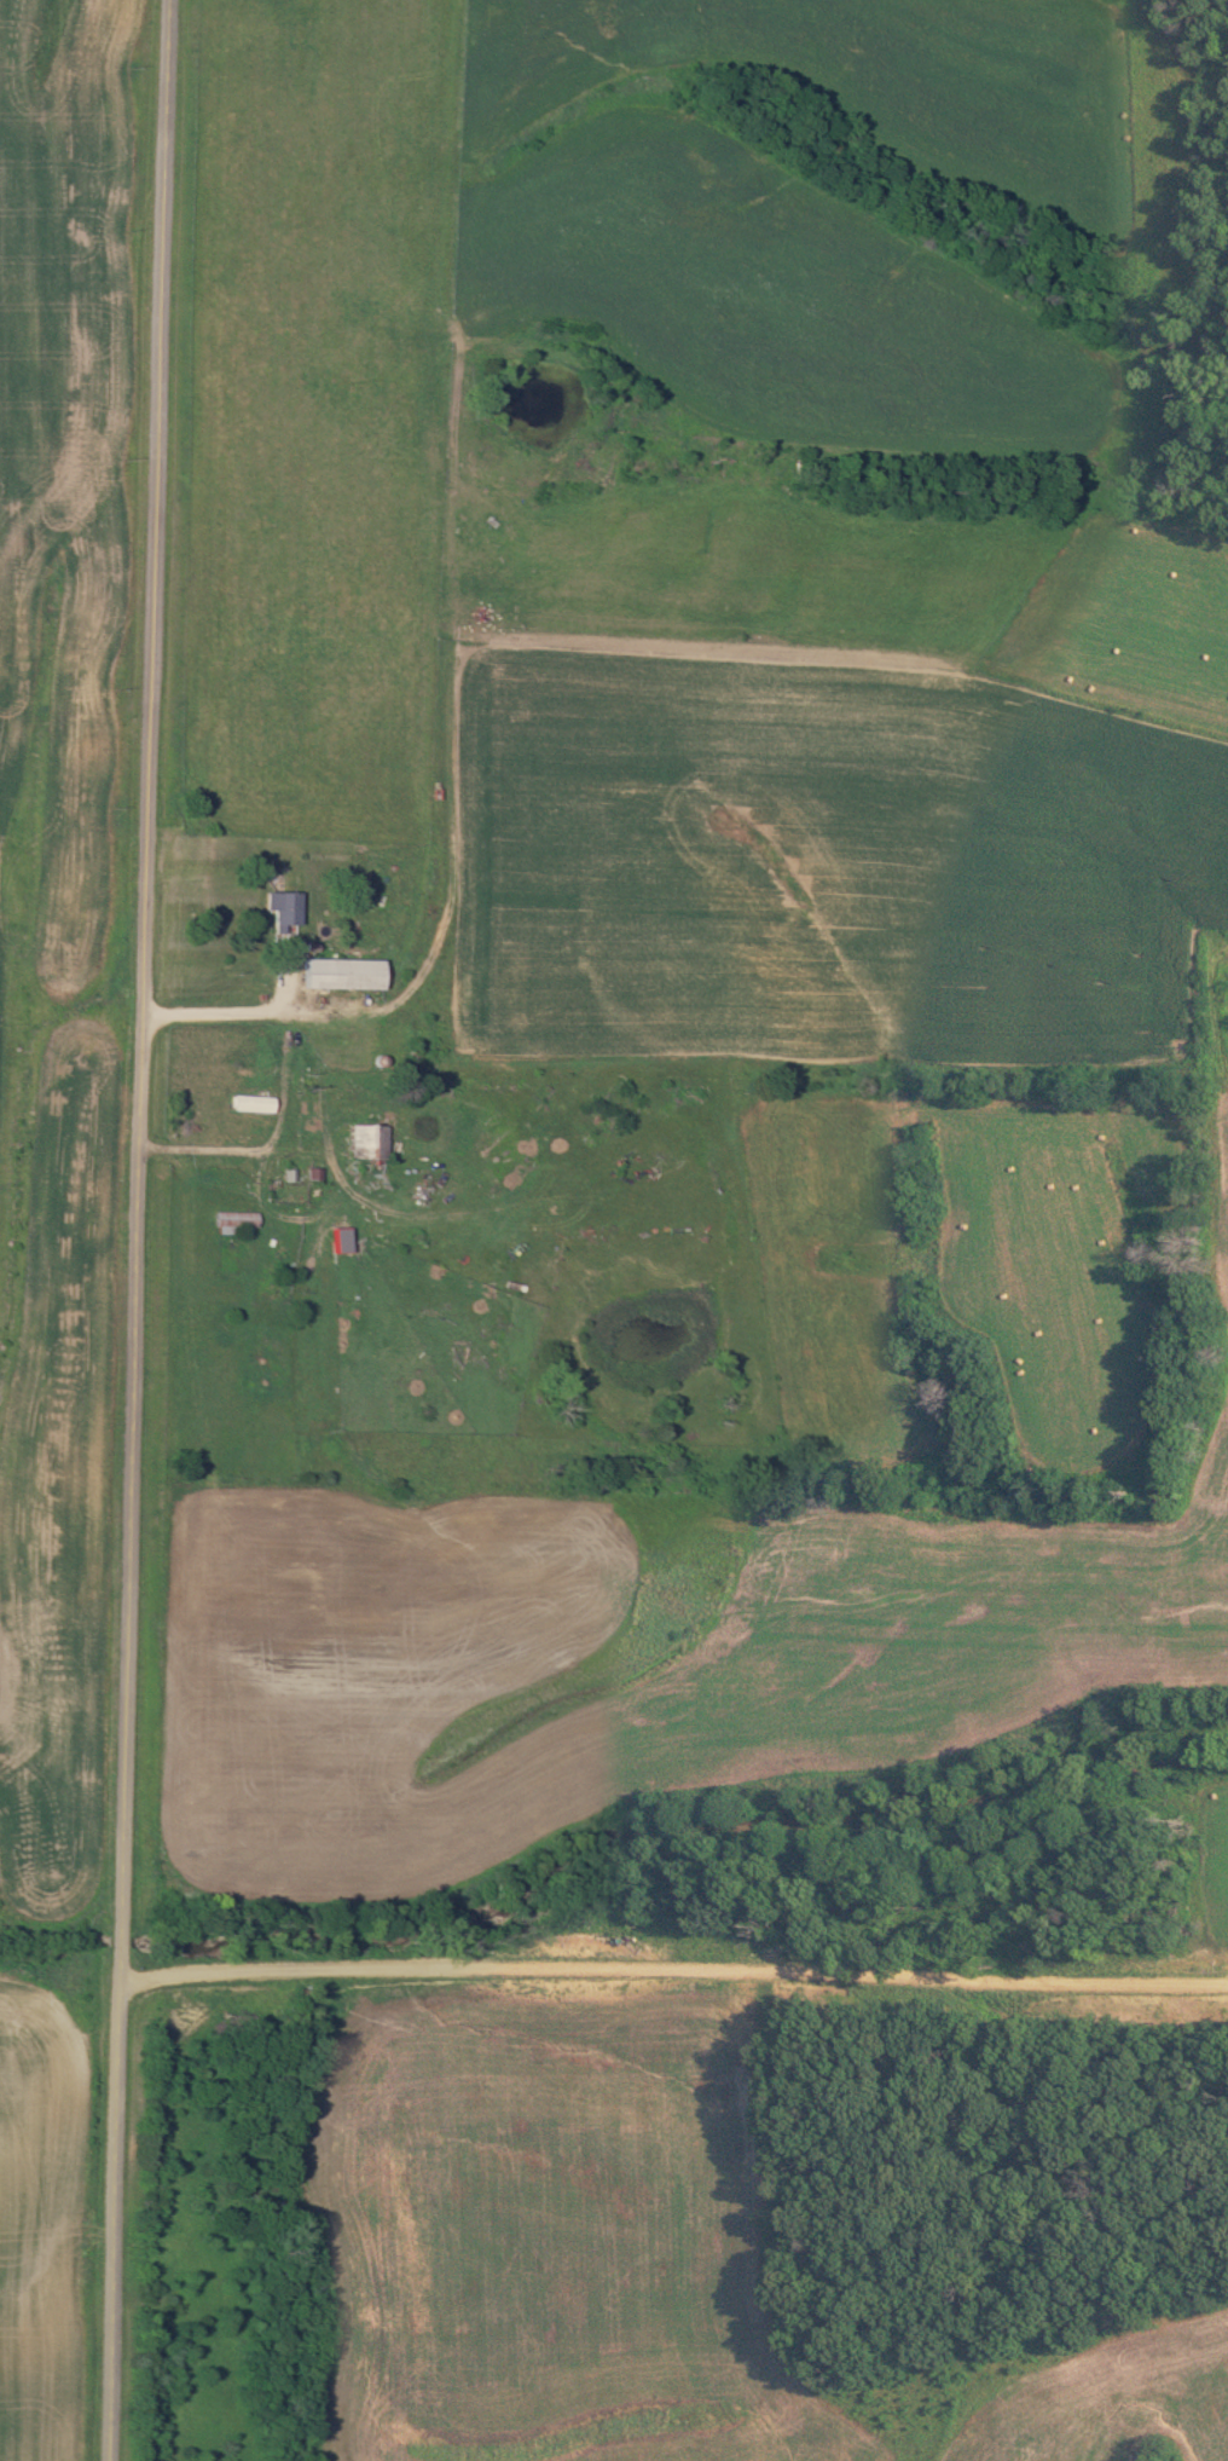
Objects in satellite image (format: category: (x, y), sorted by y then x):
building: (286, 907)
building: (344, 974)
building: (254, 1103)
building: (367, 1148)
building: (236, 1221)
road: (135, 1230)
building: (230, 1254)
road: (671, 1969)

